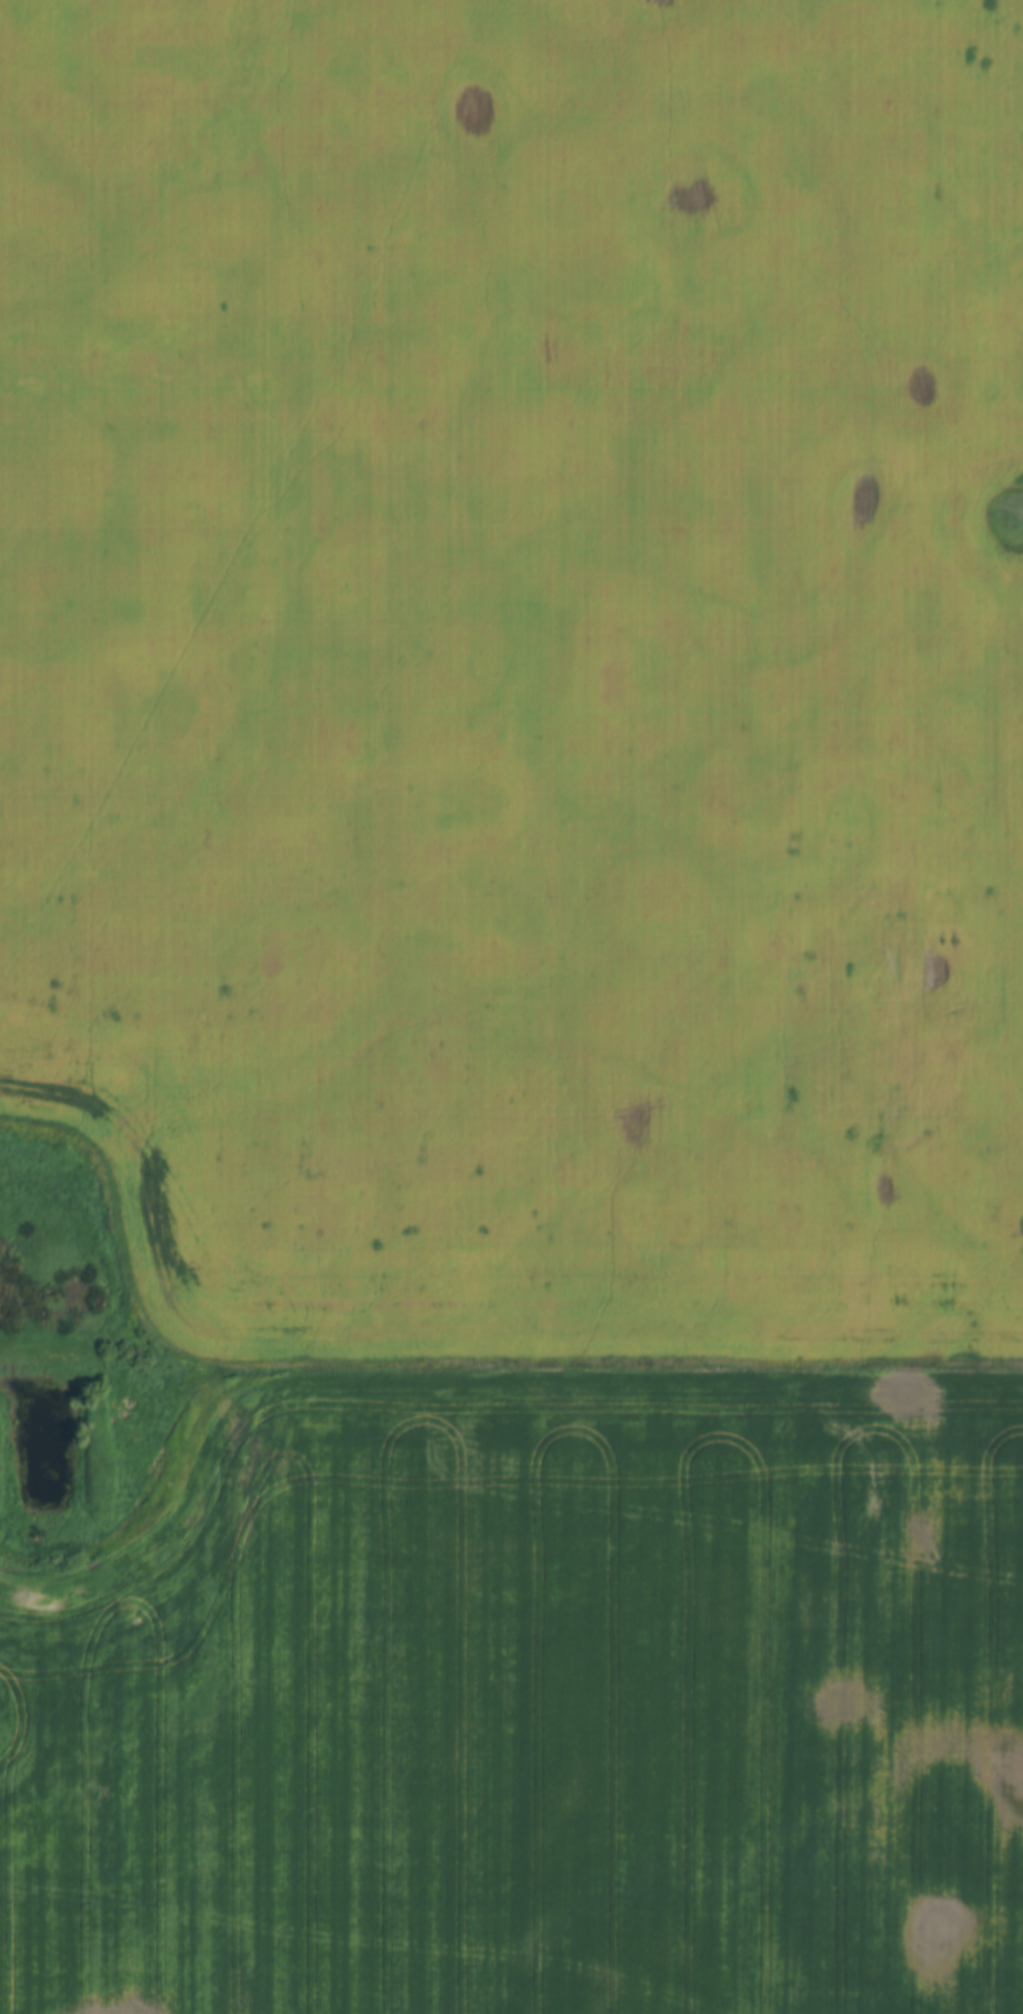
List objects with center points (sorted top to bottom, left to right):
road: (66, 1713)

